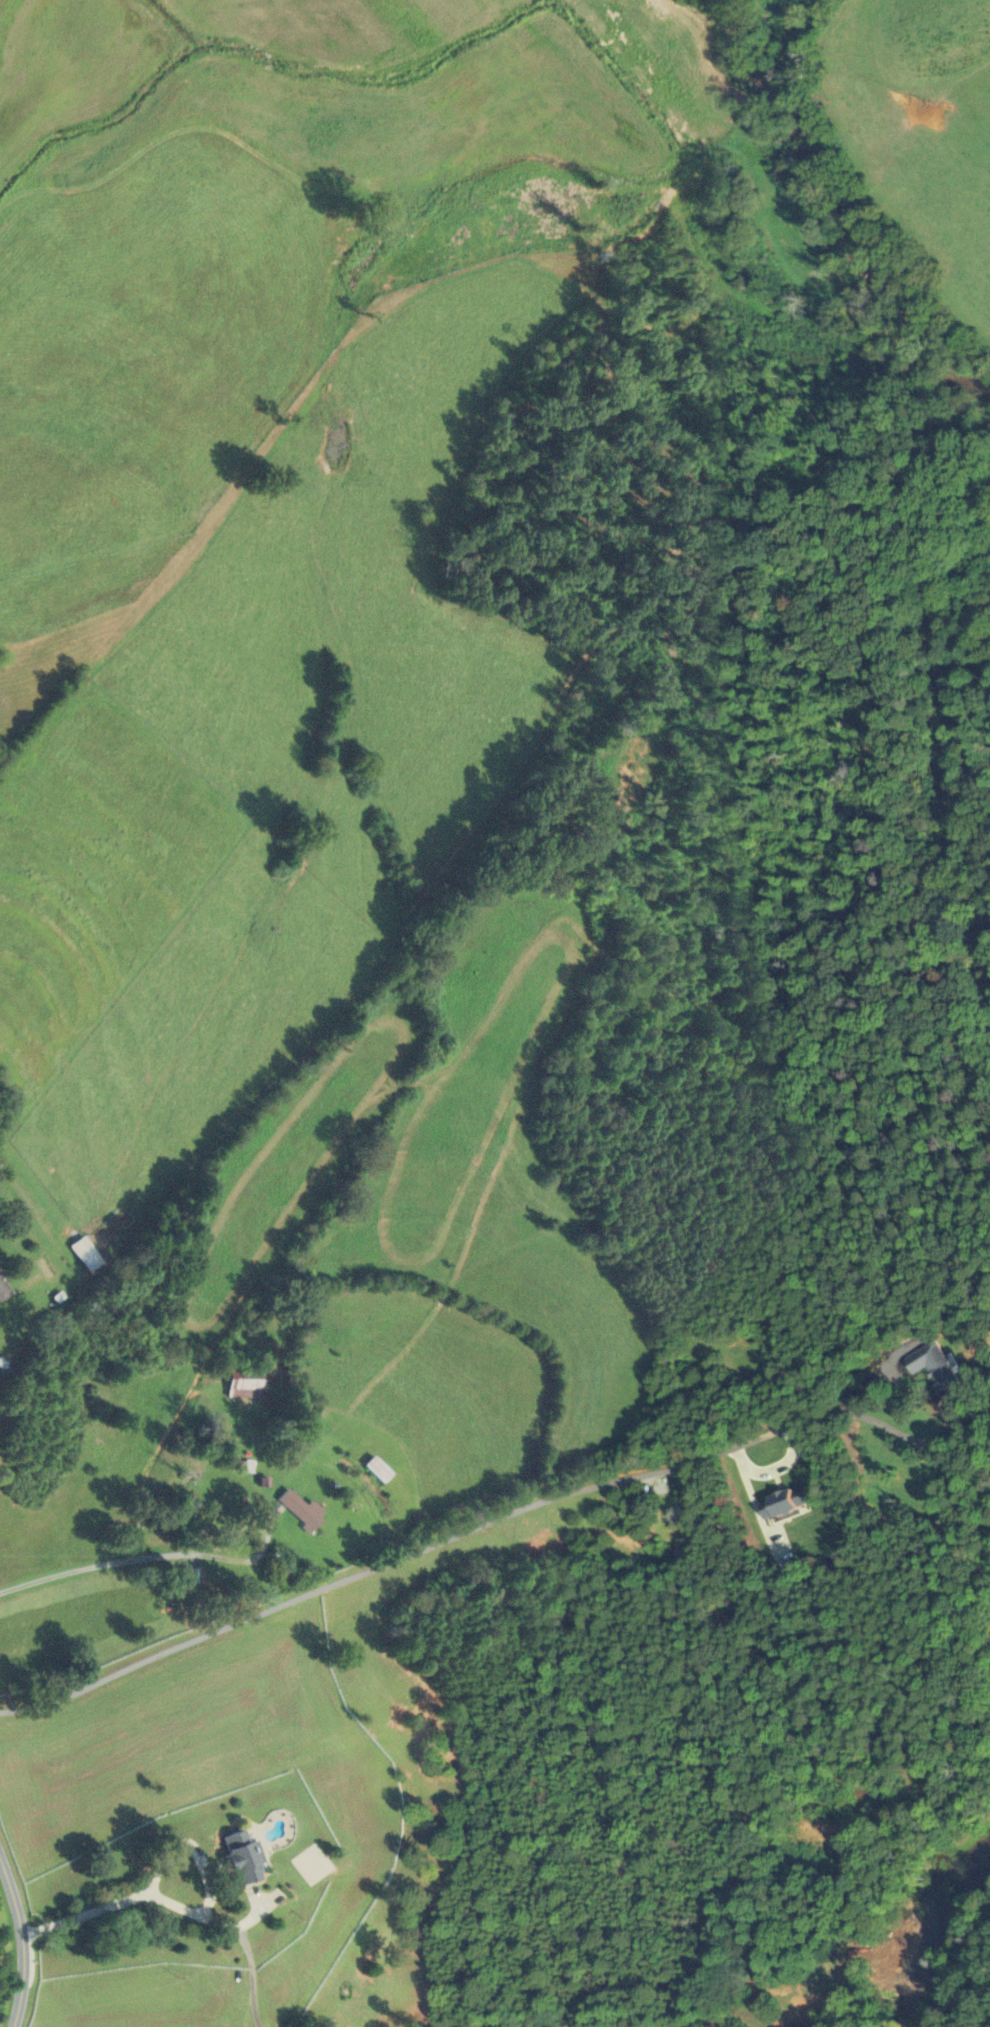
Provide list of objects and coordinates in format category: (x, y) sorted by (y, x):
building: (85, 1253)
building: (3, 1290)
building: (929, 1363)
building: (242, 1380)
road: (916, 1442)
building: (376, 1469)
building: (299, 1509)
road: (443, 1539)
road: (154, 1554)
building: (188, 1575)
building: (241, 1856)
road: (182, 1907)
road: (22, 1940)
road: (250, 1955)

